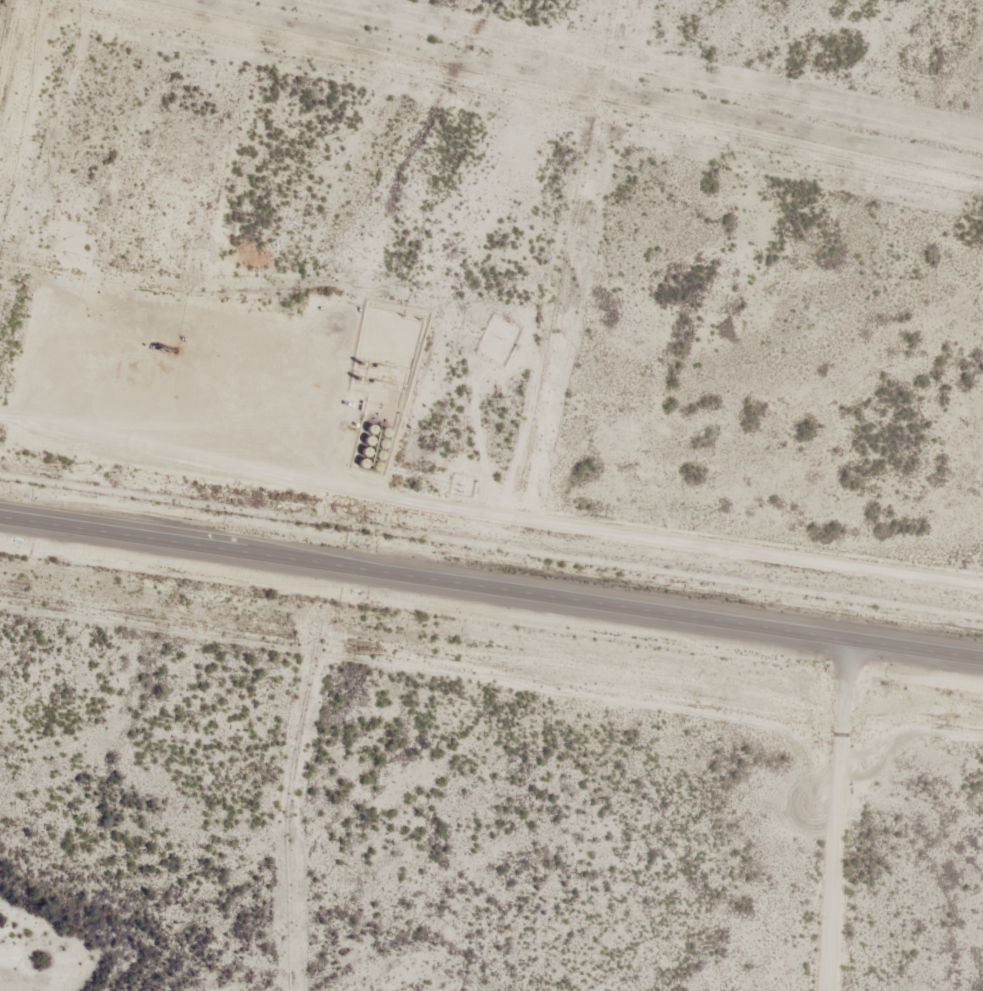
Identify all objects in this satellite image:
road: (491, 587)

